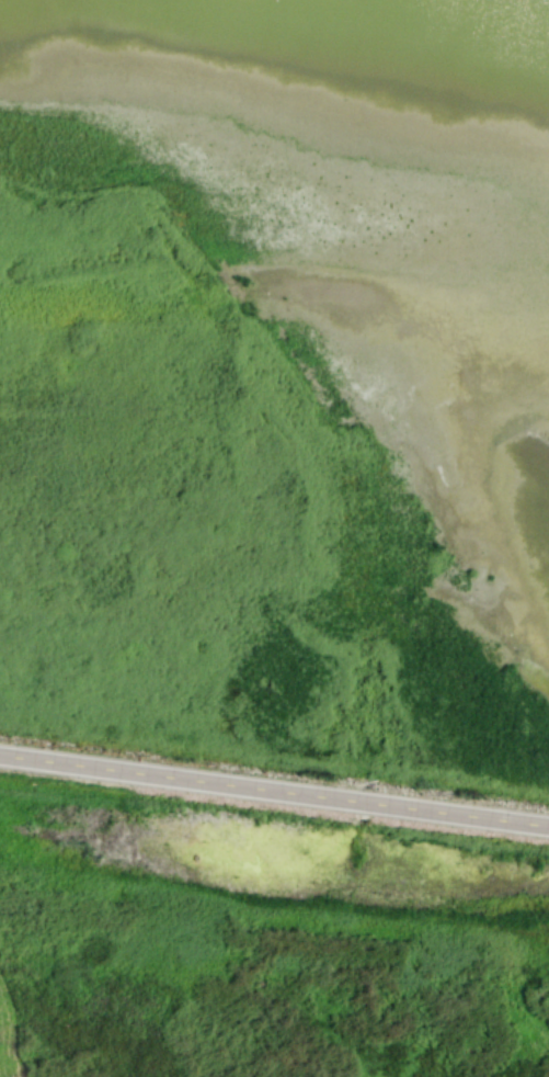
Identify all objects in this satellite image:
road: (274, 798)

